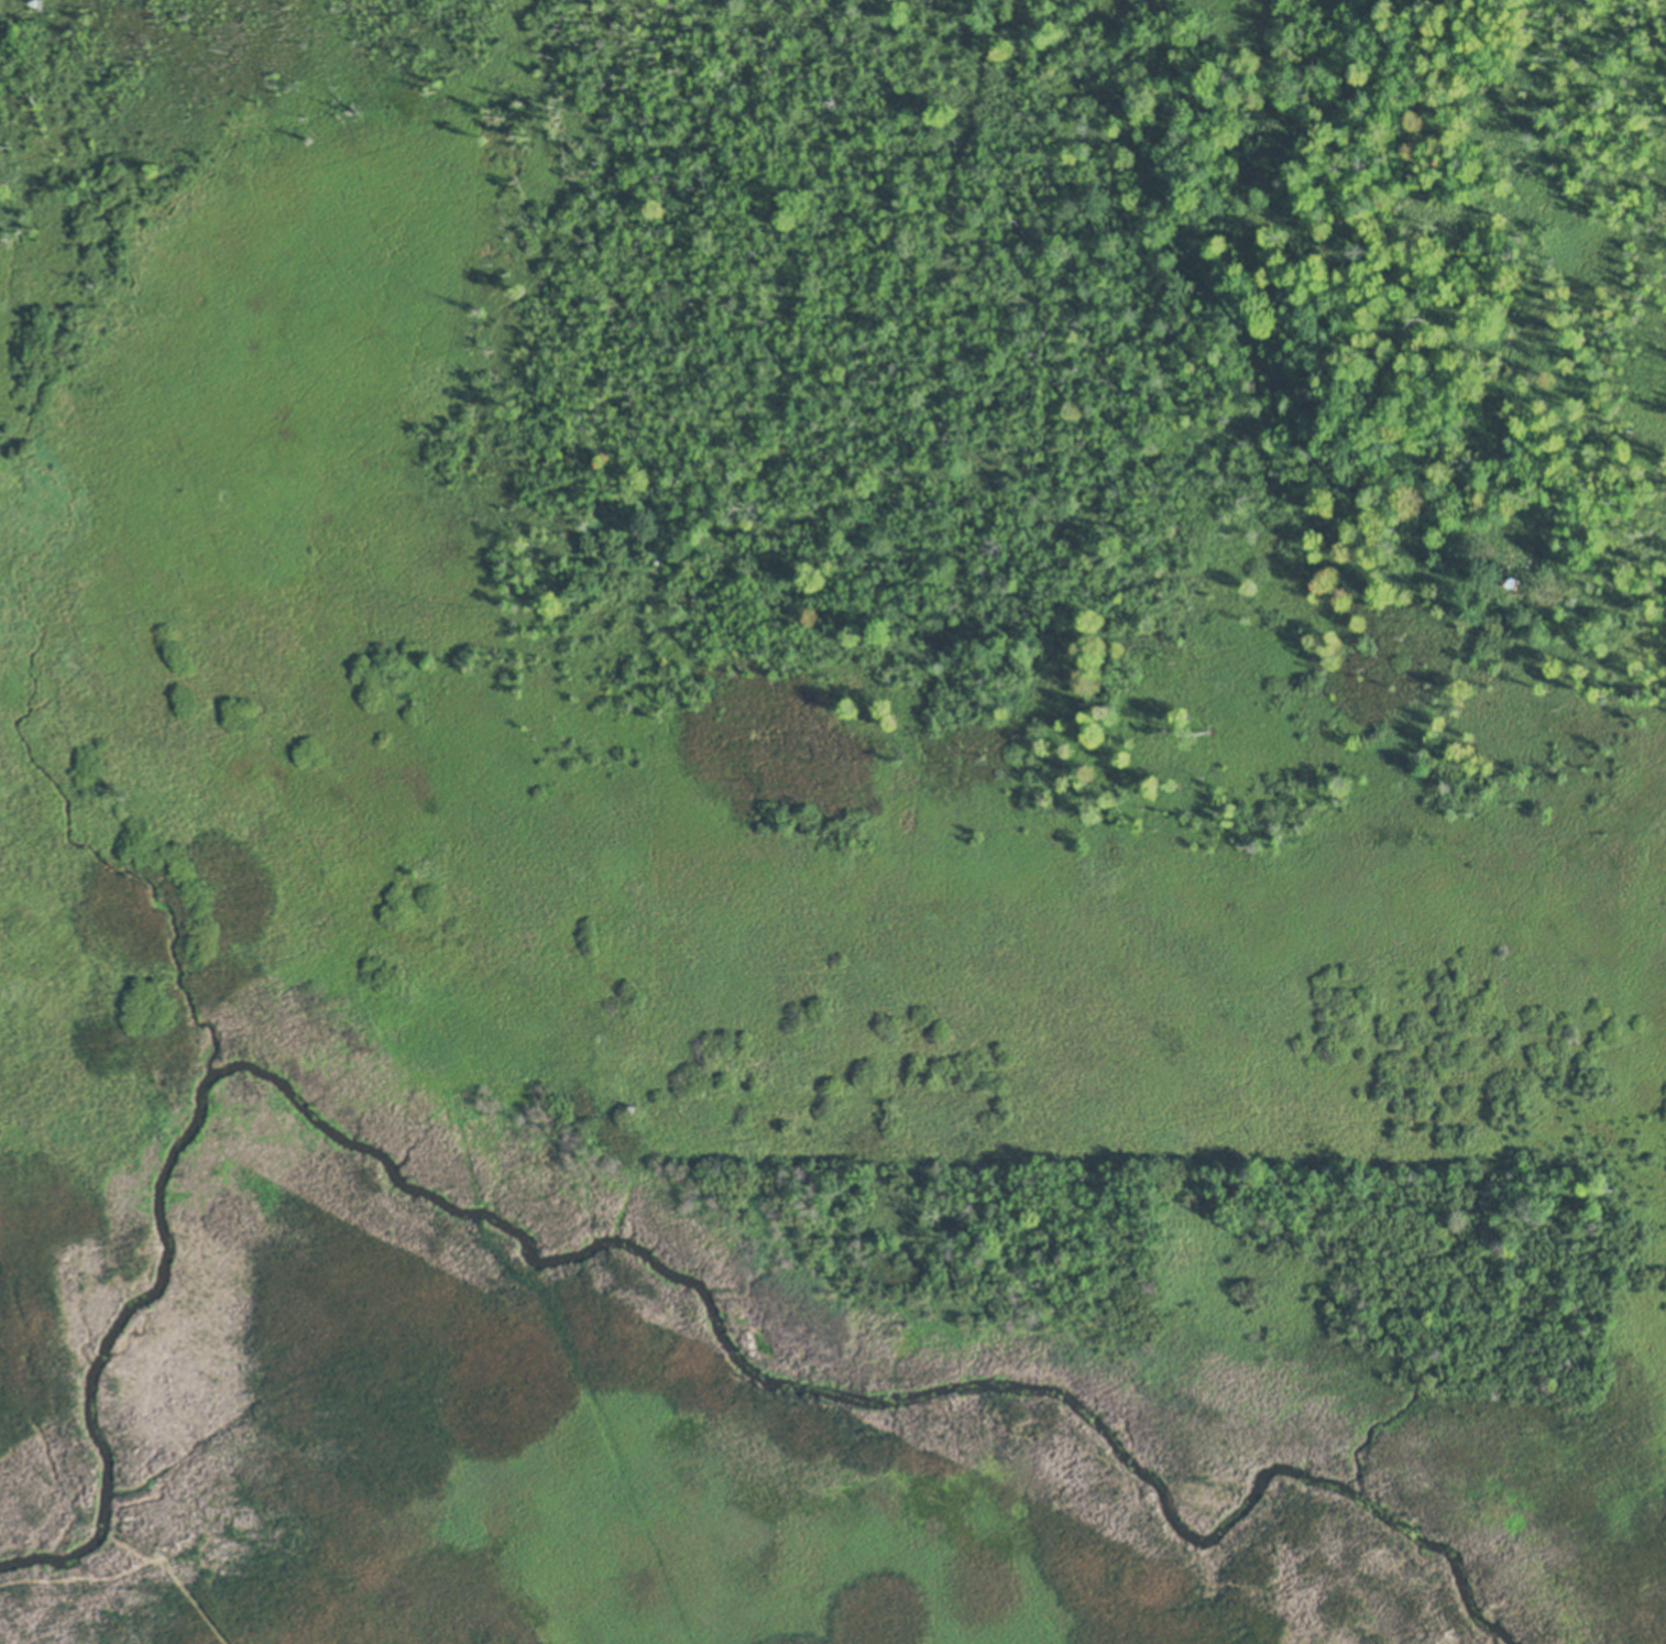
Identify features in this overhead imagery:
building: (1513, 579)
river: (636, 1250)

